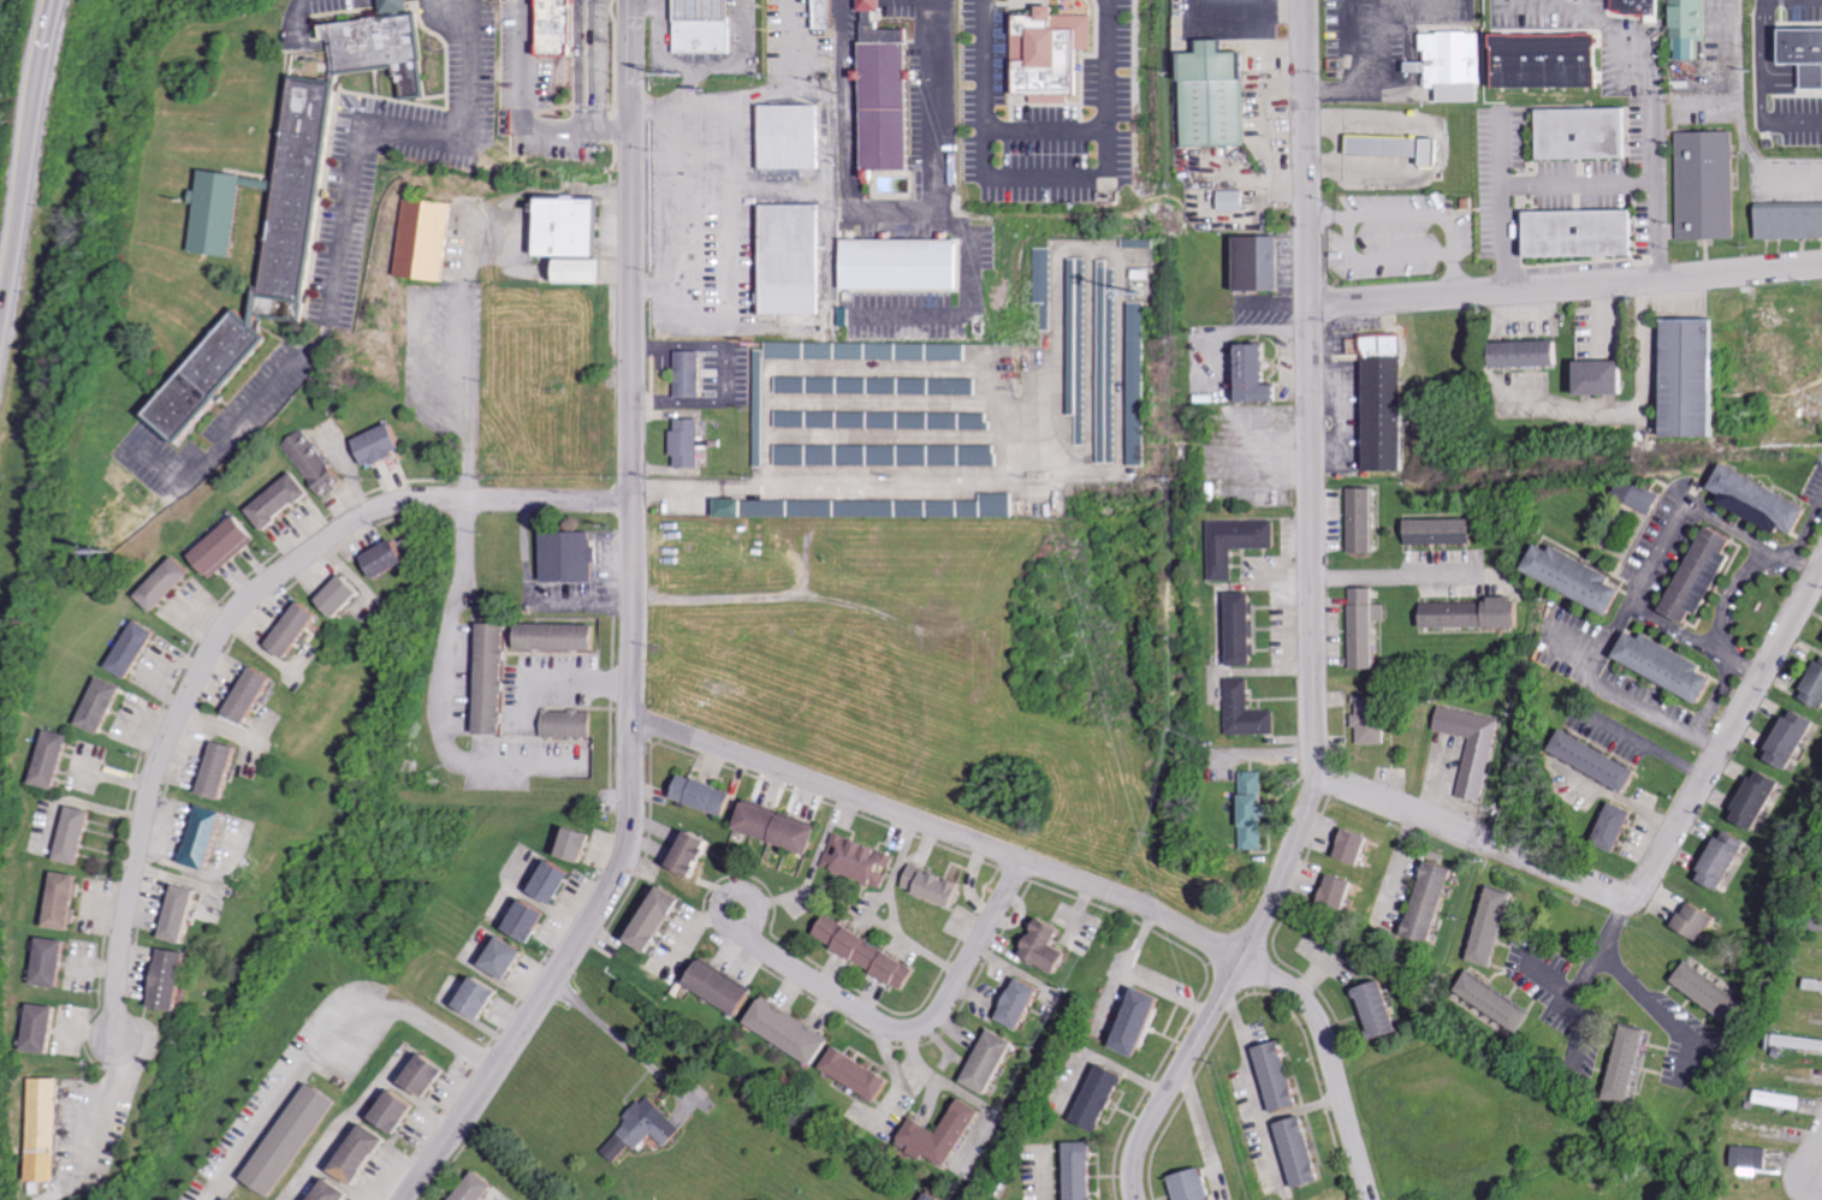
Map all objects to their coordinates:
road: (658, 1)
building: (1643, 7)
building: (826, 13)
road: (298, 19)
building: (711, 26)
building: (1695, 26)
gas station: (700, 30)
building: (558, 31)
road: (48, 34)
road: (52, 34)
building: (1051, 49)
building: (1809, 55)
building: (1541, 60)
road: (687, 64)
road: (581, 65)
road: (594, 65)
building: (1454, 65)
road: (1384, 82)
road: (1762, 88)
building: (885, 91)
building: (1222, 99)
road: (1740, 114)
road: (523, 117)
road: (1651, 123)
road: (384, 129)
building: (790, 131)
building: (1587, 133)
building: (1400, 148)
road: (1046, 178)
road: (1525, 182)
building: (1710, 186)
road: (23, 192)
building: (1235, 201)
building: (289, 206)
road: (898, 213)
building: (1792, 222)
building: (568, 227)
building: (1586, 234)
building: (1139, 239)
building: (425, 242)
building: (788, 250)
building: (1263, 263)
building: (898, 268)
building: (1044, 280)
road: (1566, 284)
building: (1078, 339)
road: (1642, 341)
building: (866, 345)
building: (1533, 352)
building: (1106, 357)
building: (688, 369)
building: (1263, 374)
building: (1135, 376)
building: (1608, 376)
building: (1695, 376)
road: (417, 379)
building: (874, 382)
road: (1310, 386)
road: (1515, 393)
road: (470, 394)
building: (1387, 398)
building: (759, 408)
road: (1642, 414)
building: (883, 417)
road: (232, 429)
building: (690, 438)
building: (379, 445)
building: (885, 451)
building: (313, 456)
road: (836, 482)
building: (278, 498)
building: (1649, 499)
building: (1767, 499)
building: (871, 504)
building: (1366, 519)
road: (1808, 529)
building: (1443, 530)
building: (224, 542)
building: (1239, 542)
building: (565, 552)
building: (386, 558)
road: (1394, 571)
building: (1710, 575)
building: (1584, 577)
building: (164, 582)
road: (1637, 590)
building: (340, 593)
road: (1731, 594)
building: (1477, 613)
road: (232, 617)
building: (1369, 626)
building: (1246, 628)
building: (295, 630)
building: (554, 630)
road: (633, 634)
road: (1697, 635)
building: (132, 644)
building: (1674, 664)
building: (491, 673)
building: (1816, 688)
road: (446, 690)
building: (250, 695)
building: (102, 701)
building: (1250, 711)
building: (1376, 718)
building: (566, 720)
road: (1732, 725)
building: (1796, 738)
road: (1646, 743)
building: (1476, 747)
building: (52, 754)
building: (1603, 760)
building: (216, 767)
building: (700, 796)
road: (1625, 798)
building: (1762, 798)
building: (1257, 809)
building: (776, 825)
building: (1621, 826)
building: (73, 833)
road: (1484, 836)
building: (202, 840)
building: (574, 845)
building: (1359, 845)
building: (692, 851)
building: (862, 855)
building: (1728, 859)
road: (1079, 875)
building: (553, 883)
building: (939, 884)
road: (735, 889)
building: (1343, 891)
building: (63, 899)
building: (1435, 902)
building: (183, 909)
building: (1703, 920)
building: (655, 921)
building: (528, 922)
building: (1821, 925)
building: (1496, 927)
building: (866, 946)
building: (1045, 946)
road: (1600, 955)
building: (52, 960)
building: (502, 960)
building: (170, 979)
road: (1550, 980)
building: (723, 984)
building: (1816, 984)
road: (1225, 985)
building: (1715, 993)
building: (479, 1000)
building: (1497, 1000)
building: (1021, 1006)
road: (1661, 1006)
building: (1385, 1009)
building: (40, 1026)
building: (793, 1026)
road: (918, 1027)
building: (1139, 1028)
road: (324, 1034)
road: (619, 1036)
building: (1800, 1041)
building: (989, 1061)
building: (1638, 1063)
building: (861, 1069)
building: (427, 1075)
building: (1277, 1076)
building: (1784, 1099)
building: (1100, 1100)
building: (397, 1112)
building: (645, 1128)
building: (48, 1129)
building: (948, 1131)
building: (292, 1140)
building: (1299, 1151)
building: (362, 1156)
road: (1817, 1156)
building: (1756, 1158)
building: (1085, 1171)
building: (1193, 1184)
building: (473, 1187)
building: (337, 1190)
building: (930, 1195)
building: (233, 1198)

